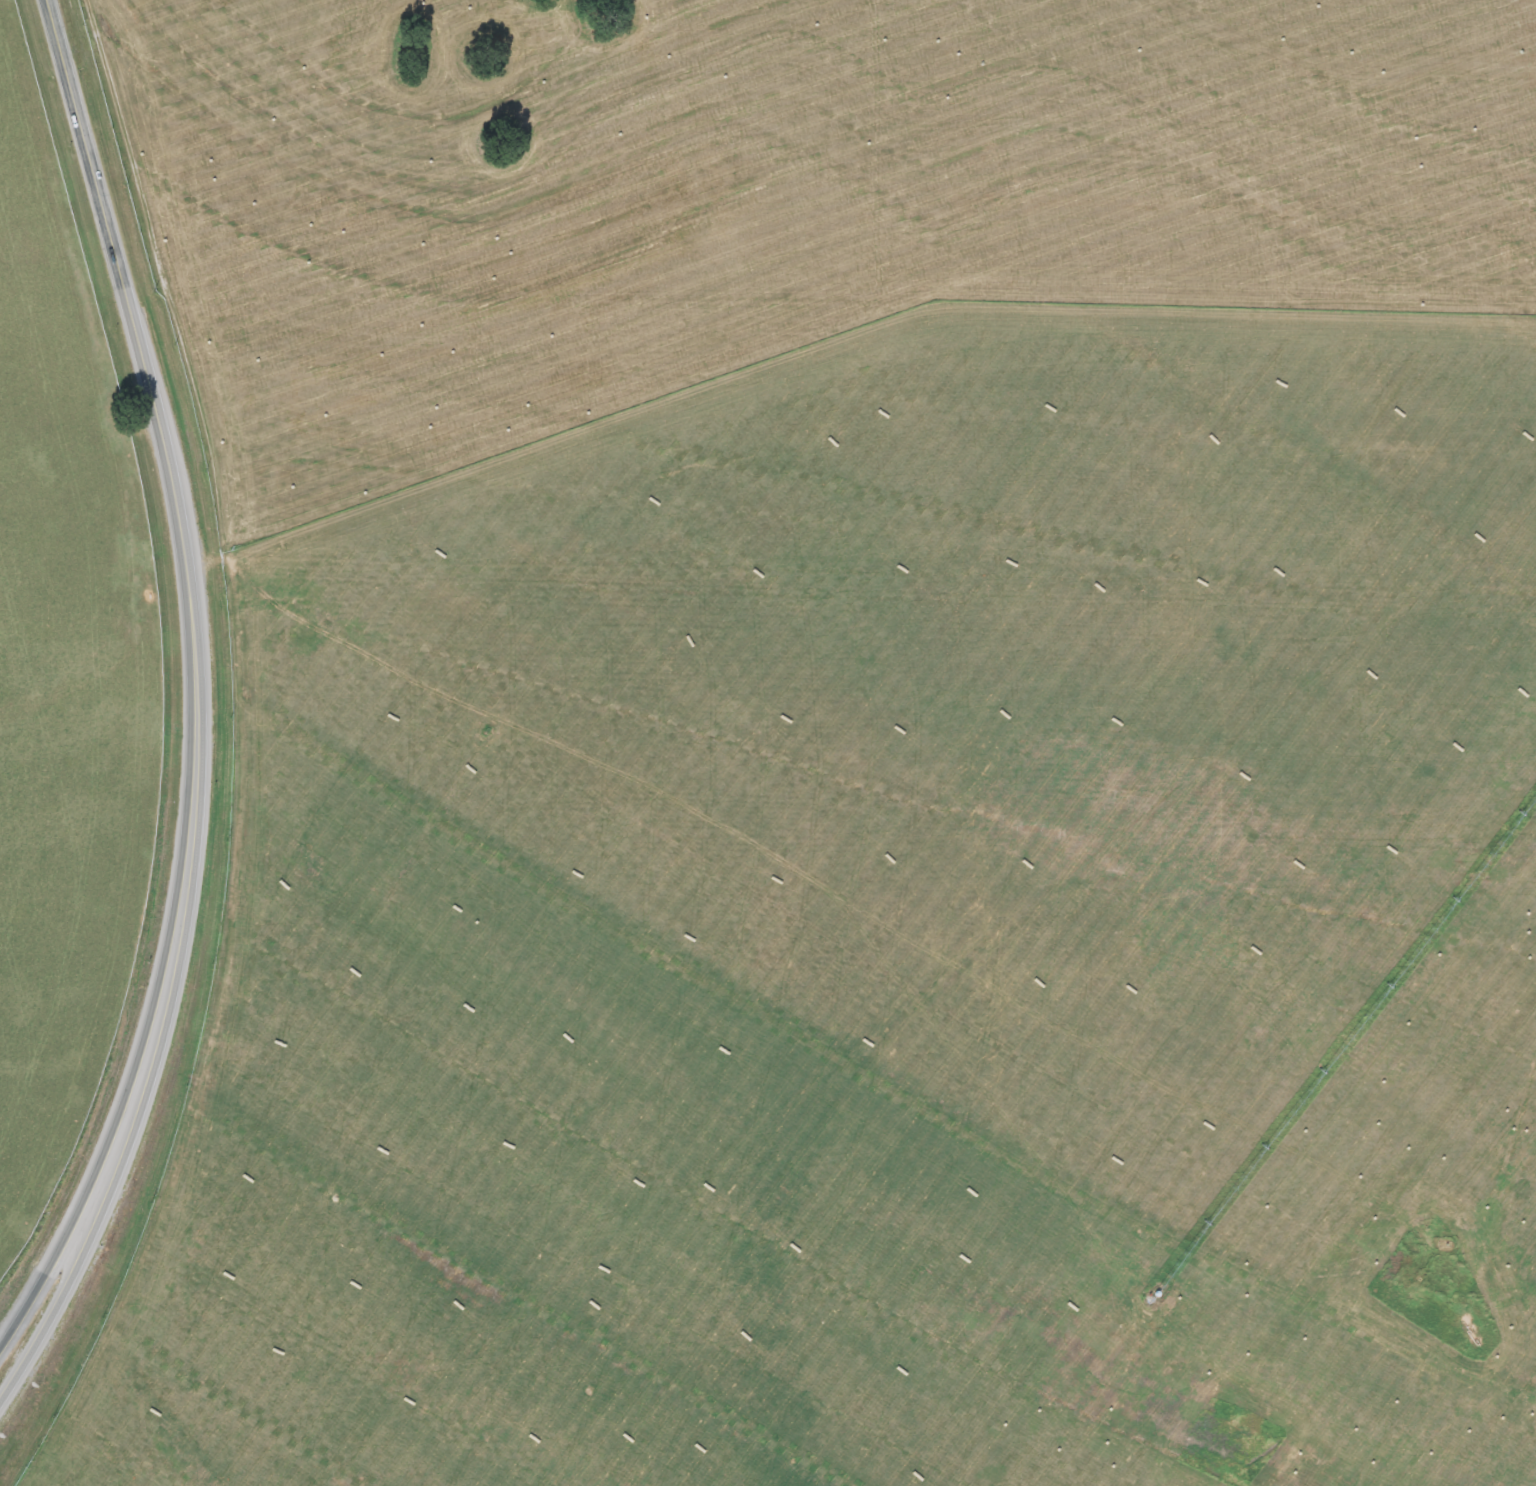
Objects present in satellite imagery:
road: (182, 554)
road: (64, 1229)
road: (75, 1262)

